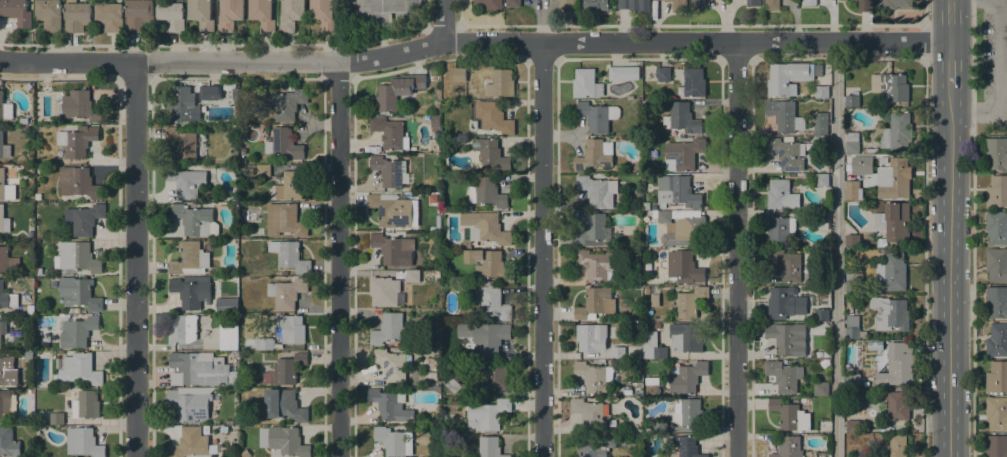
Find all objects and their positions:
building: (839, 0)
building: (754, 2)
building: (809, 2)
building: (513, 3)
building: (568, 3)
building: (488, 4)
building: (698, 4)
building: (772, 4)
building: (894, 4)
building: (594, 5)
building: (635, 5)
building: (678, 5)
building: (865, 5)
building: (16, 12)
building: (202, 13)
building: (324, 13)
road: (923, 13)
building: (50, 14)
building: (231, 14)
building: (263, 14)
building: (292, 14)
building: (138, 15)
building: (171, 15)
building: (77, 16)
building: (110, 16)
road: (443, 21)
road: (949, 21)
road: (924, 41)
road: (540, 42)
road: (880, 58)
park: (990, 60)
road: (67, 62)
road: (949, 62)
building: (623, 72)
building: (459, 74)
building: (664, 74)
building: (788, 78)
road: (1000, 78)
building: (695, 82)
building: (501, 83)
building: (586, 83)
building: (27, 85)
building: (890, 87)
building: (398, 91)
building: (821, 91)
building: (213, 93)
building: (853, 100)
building: (288, 104)
building: (437, 104)
building: (184, 105)
building: (79, 106)
building: (5, 108)
building: (436, 112)
building: (785, 115)
building: (598, 116)
building: (494, 117)
building: (682, 118)
building: (24, 121)
building: (435, 122)
building: (820, 123)
building: (37, 129)
building: (390, 132)
building: (898, 133)
building: (77, 141)
building: (183, 142)
building: (284, 143)
building: (852, 143)
building: (821, 144)
building: (3, 145)
building: (871, 150)
building: (997, 152)
building: (685, 153)
building: (788, 153)
building: (491, 155)
building: (595, 155)
building: (243, 161)
building: (861, 164)
building: (263, 170)
building: (390, 171)
building: (821, 179)
building: (894, 179)
building: (186, 181)
building: (78, 183)
building: (8, 184)
building: (290, 186)
building: (852, 190)
building: (598, 191)
building: (487, 192)
building: (677, 192)
building: (997, 192)
building: (780, 194)
building: (38, 196)
building: (653, 207)
building: (391, 210)
building: (691, 210)
building: (84, 219)
building: (196, 220)
building: (285, 220)
building: (822, 220)
building: (4, 221)
building: (893, 222)
road: (972, 228)
building: (997, 228)
building: (484, 229)
building: (781, 229)
building: (593, 230)
building: (682, 230)
building: (245, 234)
building: (853, 240)
building: (390, 247)
road: (542, 249)
road: (736, 249)
road: (836, 249)
building: (880, 250)
building: (290, 255)
road: (924, 257)
building: (76, 258)
building: (189, 259)
road: (337, 259)
road: (134, 260)
building: (8, 262)
building: (787, 264)
building: (996, 264)
building: (489, 265)
building: (600, 265)
building: (684, 267)
road: (949, 270)
building: (892, 271)
building: (437, 274)
building: (414, 275)
building: (429, 278)
building: (232, 282)
building: (854, 283)
building: (646, 290)
building: (655, 290)
building: (191, 291)
building: (385, 291)
building: (79, 293)
building: (287, 293)
building: (7, 297)
building: (655, 300)
building: (39, 301)
building: (997, 301)
building: (492, 302)
building: (691, 302)
building: (785, 302)
building: (595, 304)
building: (227, 305)
building: (30, 309)
building: (39, 309)
building: (76, 310)
building: (891, 314)
building: (822, 315)
building: (636, 316)
building: (657, 325)
building: (854, 328)
building: (3, 329)
building: (182, 329)
building: (290, 329)
building: (389, 329)
building: (77, 332)
building: (229, 337)
building: (687, 337)
building: (592, 338)
building: (787, 338)
building: (491, 339)
building: (997, 340)
building: (264, 344)
building: (652, 346)
building: (618, 353)
building: (818, 354)
building: (826, 354)
building: (28, 355)
building: (430, 361)
building: (392, 363)
building: (898, 364)
building: (80, 367)
building: (5, 368)
building: (286, 369)
building: (196, 370)
building: (785, 375)
building: (686, 377)
building: (483, 378)
building: (997, 378)
building: (598, 379)
building: (853, 380)
building: (652, 381)
building: (432, 389)
building: (821, 389)
building: (190, 403)
building: (85, 404)
building: (7, 405)
building: (284, 405)
building: (390, 405)
building: (898, 405)
building: (688, 412)
building: (589, 413)
building: (996, 413)
building: (487, 414)
building: (790, 415)
building: (57, 418)
building: (635, 424)
building: (852, 426)
building: (660, 427)
building: (648, 430)
building: (283, 440)
building: (394, 441)
building: (8, 443)
building: (83, 443)
building: (189, 443)
building: (594, 446)
building: (687, 446)
building: (897, 446)
building: (996, 446)
building: (490, 447)
building: (788, 447)

